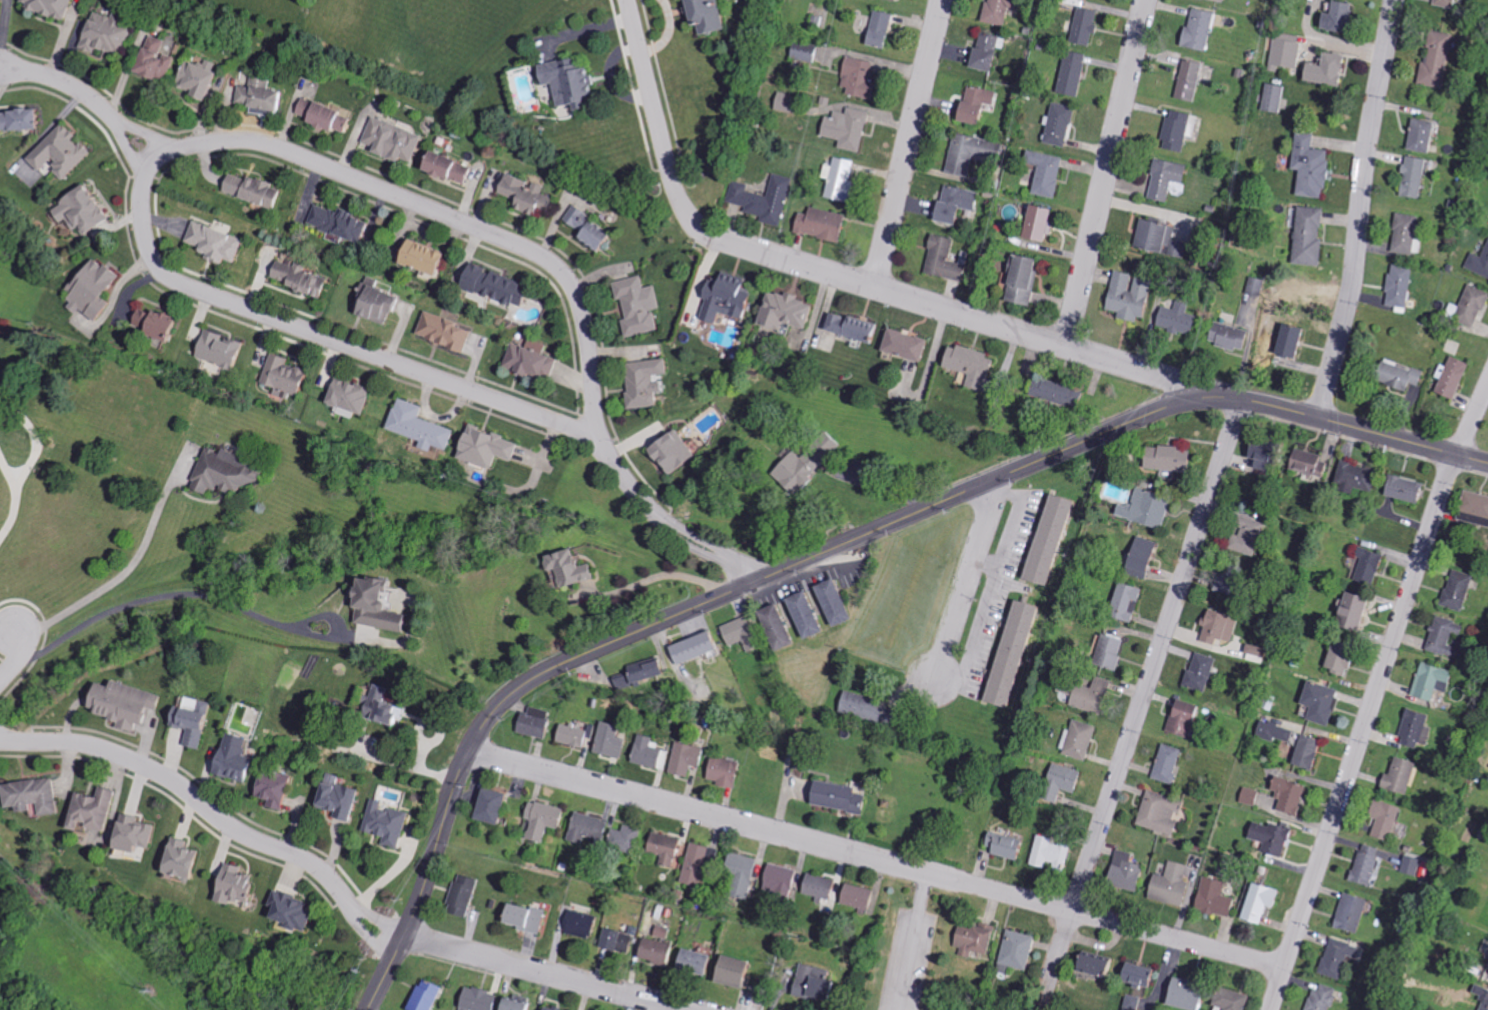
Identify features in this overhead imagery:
building: (889, 0)
building: (1218, 1)
building: (1442, 3)
building: (52, 6)
building: (995, 11)
building: (714, 16)
building: (1333, 18)
building: (1082, 27)
building: (876, 29)
building: (1196, 31)
building: (109, 34)
building: (803, 51)
building: (982, 53)
building: (1433, 60)
building: (159, 61)
building: (1324, 70)
building: (1070, 74)
building: (855, 77)
building: (204, 78)
building: (1187, 80)
building: (574, 83)
building: (264, 97)
building: (1273, 99)
road: (92, 101)
building: (972, 104)
building: (329, 115)
road: (655, 119)
building: (22, 120)
building: (1058, 125)
building: (844, 128)
road: (141, 132)
building: (1174, 132)
building: (1418, 136)
building: (396, 141)
road: (908, 143)
building: (65, 152)
building: (969, 153)
building: (452, 167)
building: (1307, 167)
road: (1105, 172)
building: (1043, 173)
building: (1411, 178)
building: (837, 179)
building: (1163, 179)
building: (257, 190)
building: (530, 196)
building: (762, 200)
building: (953, 204)
building: (86, 210)
road: (1360, 211)
road: (435, 212)
building: (343, 222)
building: (817, 224)
building: (1035, 224)
building: (594, 230)
building: (1403, 234)
building: (1305, 236)
building: (1155, 238)
building: (218, 242)
building: (430, 258)
building: (941, 259)
building: (1478, 262)
building: (304, 278)
building: (1018, 282)
building: (501, 286)
building: (1396, 286)
building: (1254, 287)
building: (97, 290)
building: (1126, 296)
building: (723, 297)
building: (635, 305)
building: (1470, 306)
building: (779, 312)
road: (971, 315)
building: (1174, 319)
building: (162, 324)
building: (849, 328)
building: (448, 332)
building: (1225, 336)
building: (1284, 342)
building: (901, 345)
building: (225, 349)
road: (378, 358)
building: (532, 361)
building: (967, 366)
building: (1395, 375)
building: (291, 377)
building: (642, 382)
building: (1051, 393)
building: (2, 396)
building: (356, 397)
road: (1472, 420)
building: (424, 426)
building: (827, 445)
road: (35, 448)
building: (487, 448)
building: (667, 452)
building: (1164, 457)
building: (1256, 461)
building: (1304, 463)
building: (232, 470)
building: (794, 471)
building: (1353, 479)
road: (887, 484)
building: (1400, 489)
road: (14, 509)
building: (1472, 509)
building: (1142, 510)
building: (1247, 536)
building: (1046, 539)
road: (710, 545)
road: (827, 551)
road: (701, 553)
building: (1139, 557)
building: (1364, 567)
building: (566, 568)
road: (127, 569)
road: (669, 573)
road: (966, 587)
building: (1455, 590)
road: (207, 593)
building: (831, 603)
building: (1125, 603)
building: (384, 605)
building: (1347, 613)
building: (801, 615)
road: (9, 621)
building: (773, 627)
building: (1215, 628)
building: (735, 631)
building: (1442, 636)
building: (689, 649)
building: (1107, 651)
building: (1009, 653)
road: (1156, 656)
road: (17, 658)
building: (1335, 660)
building: (1197, 673)
building: (637, 674)
building: (1428, 682)
building: (1088, 695)
building: (1317, 702)
building: (129, 703)
building: (390, 705)
building: (861, 707)
building: (1179, 718)
building: (196, 720)
building: (538, 722)
building: (1413, 730)
road: (1362, 732)
building: (578, 734)
building: (1077, 740)
building: (610, 742)
building: (646, 754)
building: (1303, 755)
building: (238, 758)
building: (683, 759)
building: (1165, 764)
building: (720, 772)
building: (1397, 777)
building: (1057, 782)
building: (278, 788)
building: (37, 795)
building: (1248, 796)
building: (1285, 796)
building: (833, 797)
building: (343, 799)
building: (498, 805)
building: (97, 809)
building: (1158, 813)
road: (214, 815)
building: (547, 819)
building: (1382, 819)
building: (389, 823)
building: (592, 828)
building: (138, 833)
building: (628, 838)
building: (1268, 838)
building: (1001, 846)
building: (669, 848)
building: (1048, 853)
building: (187, 858)
road: (876, 859)
building: (699, 865)
building: (1364, 865)
building: (1409, 866)
building: (1122, 872)
building: (737, 875)
building: (776, 882)
building: (240, 884)
building: (1168, 885)
building: (815, 886)
building: (466, 895)
building: (854, 896)
building: (1213, 899)
building: (1256, 903)
building: (296, 909)
building: (1348, 914)
building: (531, 917)
road: (379, 922)
building: (583, 924)
building: (972, 939)
building: (620, 940)
road: (912, 941)
building: (1015, 950)
road: (1059, 950)
building: (659, 951)
building: (1336, 958)
building: (699, 962)
building: (1092, 965)
building: (739, 971)
road: (545, 973)
building: (1134, 975)
building: (807, 983)
building: (1480, 993)
building: (430, 995)
building: (1182, 996)
building: (1320, 997)
building: (483, 999)
building: (1228, 1000)
building: (1133, 1003)
building: (522, 1004)
building: (556, 1008)

